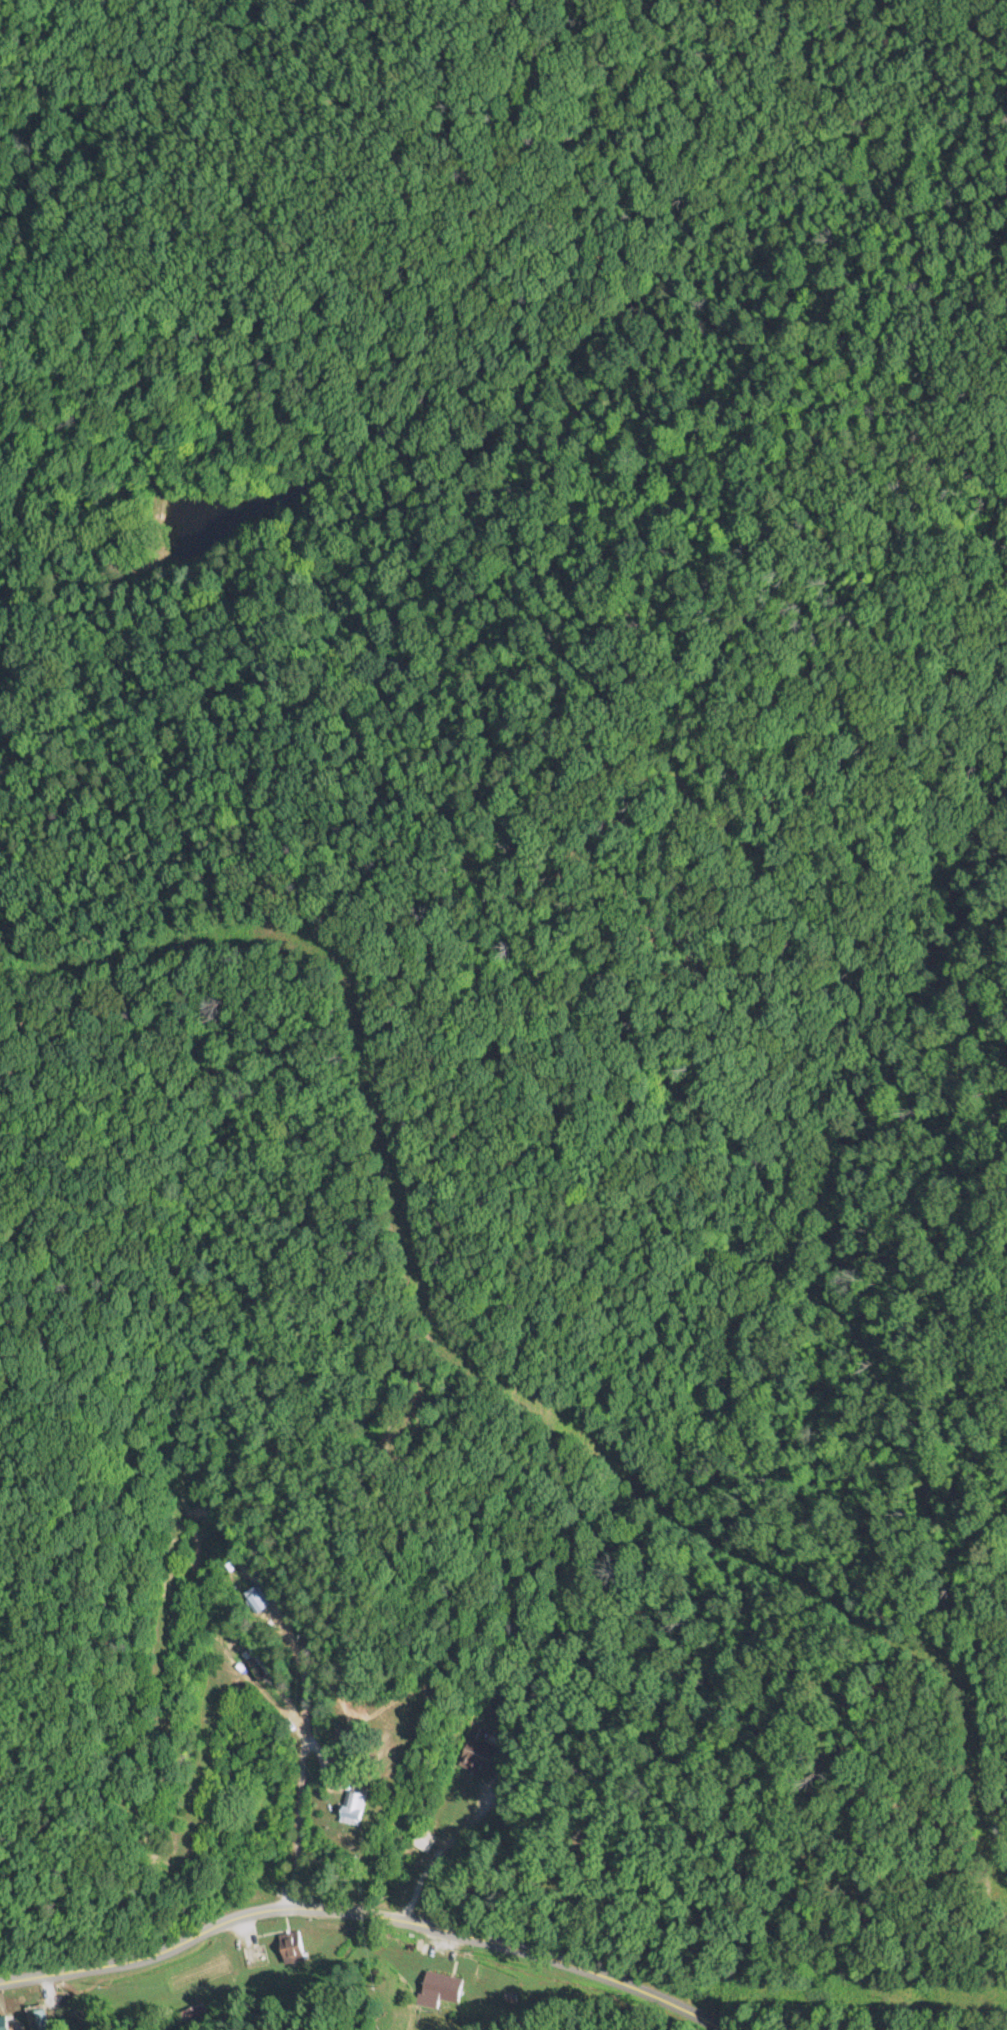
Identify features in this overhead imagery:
building: (254, 1600)
building: (491, 1709)
building: (477, 1752)
building: (348, 1809)
building: (423, 1840)
road: (362, 1916)
building: (290, 1946)
building: (441, 1986)
building: (188, 2015)
building: (38, 2018)
building: (4, 2022)

